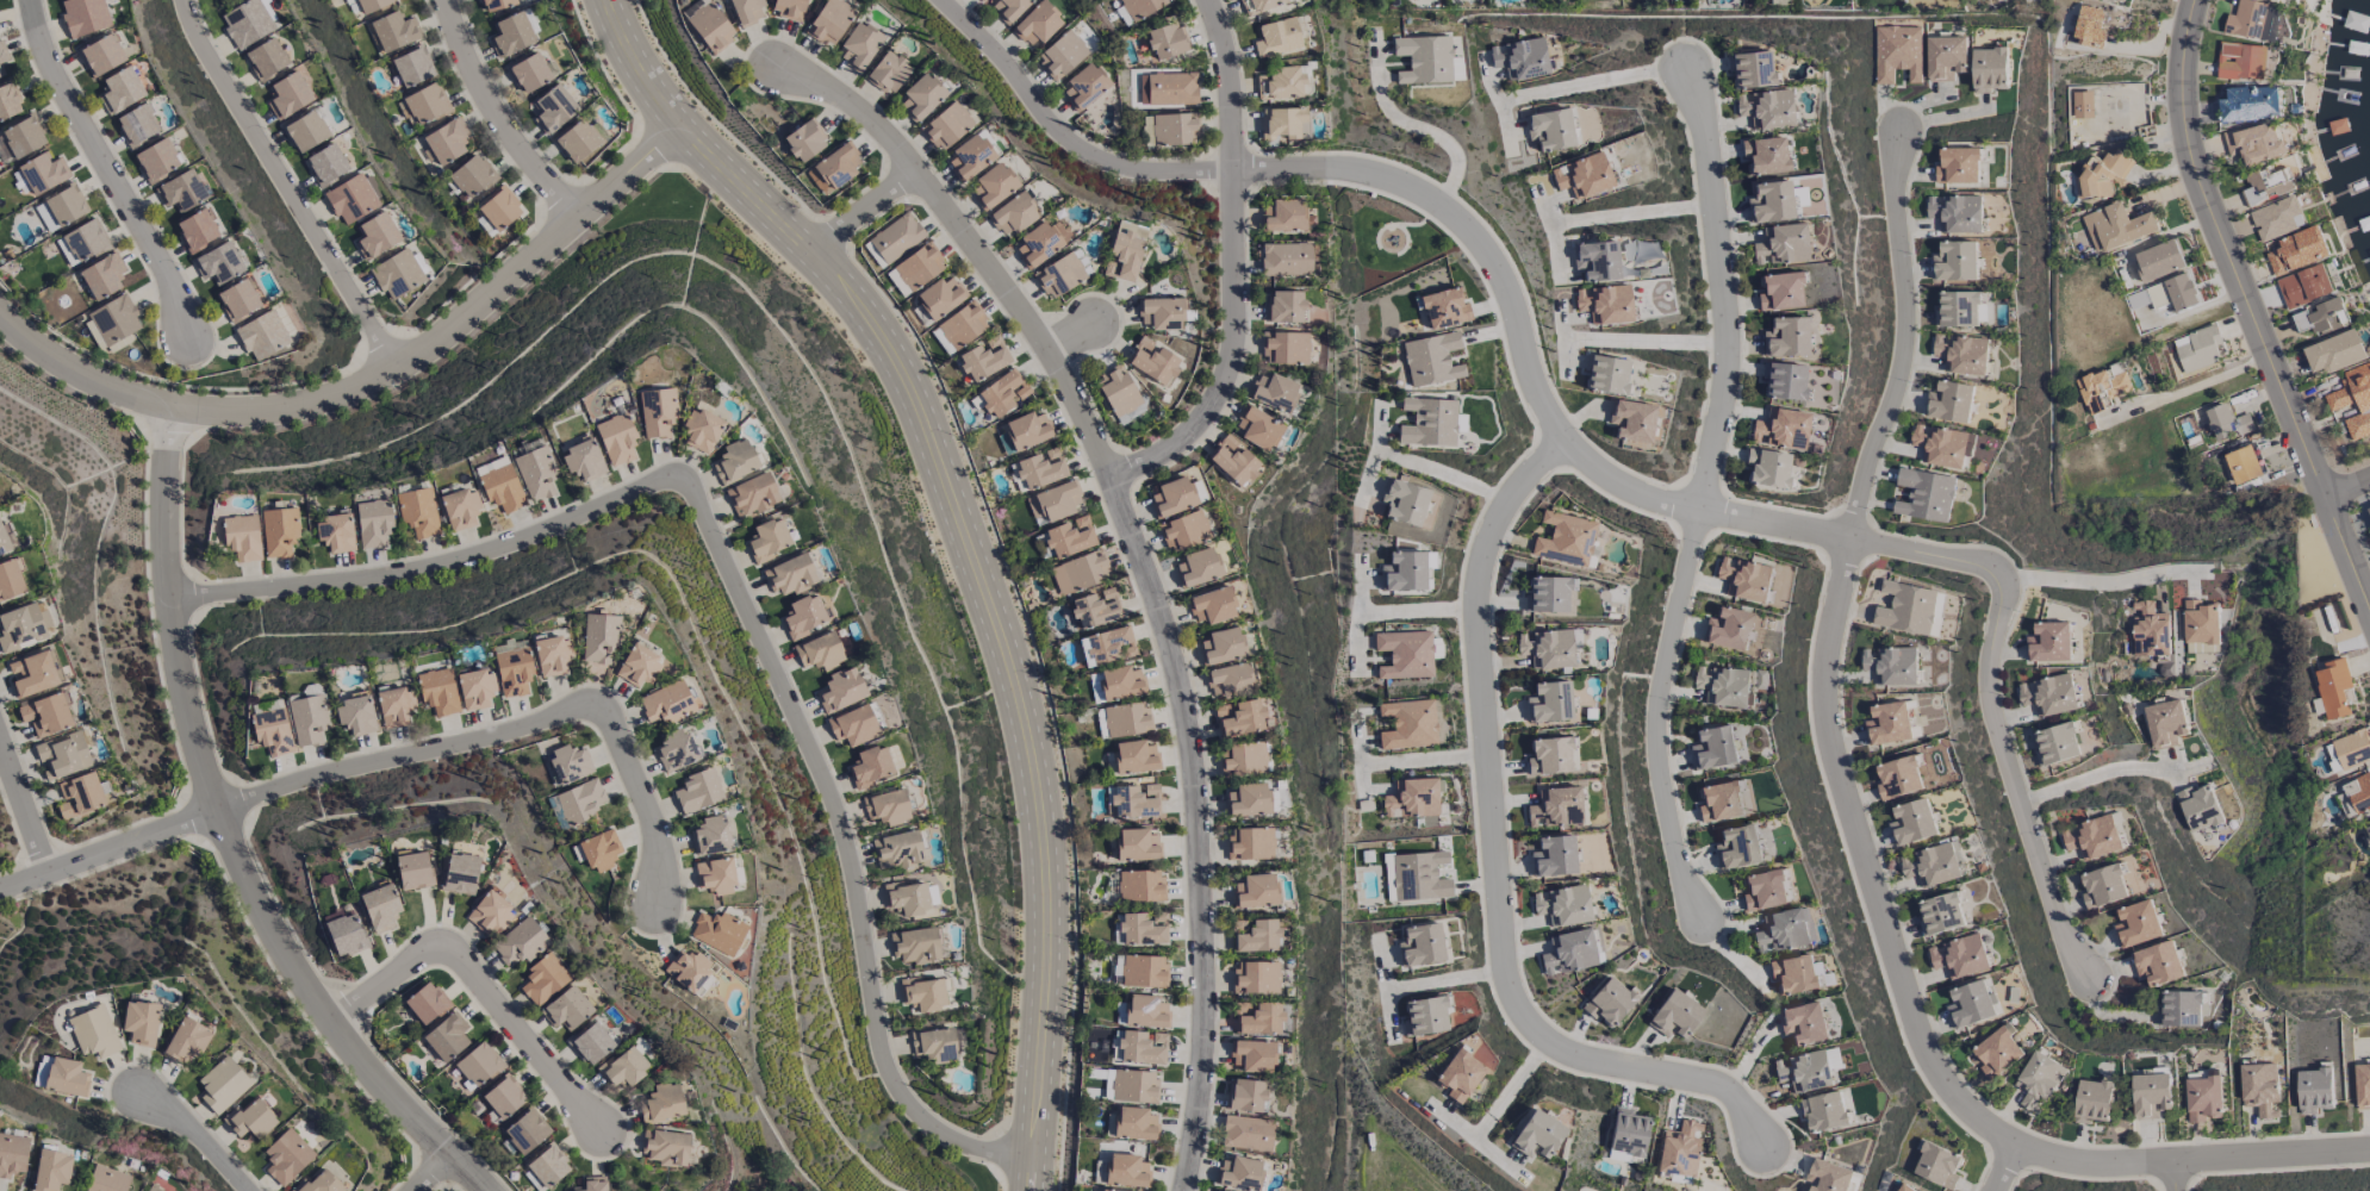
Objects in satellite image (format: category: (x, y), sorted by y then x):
building: (981, 0)
building: (2114, 0)
building: (2271, 0)
building: (810, 4)
building: (1275, 4)
building: (372, 5)
building: (496, 5)
building: (1157, 5)
building: (1026, 6)
building: (769, 7)
building: (790, 8)
building: (1008, 8)
building: (746, 11)
building: (85, 15)
building: (850, 18)
building: (729, 19)
building: (1056, 19)
building: (2252, 20)
building: (831, 21)
building: (247, 23)
building: (1037, 24)
building: (2090, 26)
building: (710, 27)
building: (393, 31)
building: (1298, 31)
building: (511, 33)
building: (1187, 33)
building: (879, 39)
building: (1167, 40)
building: (859, 46)
building: (1081, 49)
building: (1444, 52)
building: (1897, 52)
building: (101, 55)
building: (1062, 55)
building: (1946, 57)
building: (1520, 58)
building: (266, 60)
building: (2240, 61)
building: (2, 66)
building: (412, 67)
building: (909, 67)
building: (1749, 69)
building: (1990, 69)
building: (888, 71)
building: (529, 73)
building: (1300, 77)
building: (1106, 80)
road: (1603, 80)
building: (1190, 82)
building: (1281, 83)
building: (1084, 87)
building: (122, 88)
building: (940, 91)
building: (287, 95)
building: (921, 98)
building: (8, 101)
building: (423, 104)
building: (2250, 104)
building: (2080, 105)
building: (553, 108)
building: (1766, 108)
building: (1304, 118)
road: (496, 119)
building: (965, 120)
road: (1439, 123)
building: (1195, 124)
building: (137, 125)
building: (946, 126)
building: (1174, 129)
road: (1083, 130)
building: (1550, 130)
building: (306, 131)
building: (826, 133)
building: (23, 137)
building: (446, 141)
building: (577, 141)
building: (804, 141)
building: (2254, 143)
building: (989, 150)
building: (1765, 155)
building: (970, 157)
building: (156, 160)
building: (857, 160)
building: (325, 164)
building: (1958, 166)
building: (835, 168)
road: (108, 172)
building: (43, 173)
building: (471, 176)
building: (1582, 176)
building: (2100, 176)
building: (1014, 177)
road: (286, 182)
building: (993, 186)
building: (2265, 186)
building: (181, 191)
building: (353, 198)
building: (1771, 202)
road: (872, 207)
building: (61, 208)
building: (499, 208)
building: (1035, 208)
road: (1632, 213)
building: (1957, 213)
building: (1013, 214)
building: (1284, 216)
building: (2276, 219)
building: (2116, 226)
building: (197, 230)
building: (377, 235)
building: (896, 237)
building: (1057, 238)
building: (85, 241)
building: (1781, 244)
building: (2296, 250)
building: (1126, 251)
building: (1286, 260)
building: (2160, 260)
building: (1597, 261)
building: (1955, 261)
road: (1252, 262)
building: (219, 263)
building: (919, 267)
building: (1078, 269)
building: (398, 274)
building: (101, 276)
building: (2303, 286)
road: (1721, 289)
building: (1780, 292)
building: (2166, 294)
building: (940, 297)
building: (240, 299)
building: (1605, 304)
road: (2247, 305)
building: (1286, 306)
building: (1444, 308)
building: (1960, 310)
road: (2189, 310)
building: (1161, 313)
building: (2321, 318)
building: (114, 322)
building: (959, 328)
road: (1088, 330)
building: (262, 335)
building: (1786, 337)
road: (1643, 341)
building: (1286, 348)
building: (2198, 348)
building: (2334, 351)
building: (1961, 354)
building: (984, 358)
building: (1431, 358)
building: (1153, 361)
road: (371, 373)
building: (1606, 374)
building: (1784, 380)
road: (2194, 385)
building: (2102, 389)
building: (1118, 391)
building: (1274, 392)
building: (1003, 393)
building: (2353, 399)
building: (1949, 401)
building: (658, 413)
building: (1632, 420)
building: (1429, 422)
building: (2227, 423)
building: (1258, 428)
building: (1781, 429)
building: (702, 430)
building: (1027, 430)
road: (1562, 437)
building: (617, 439)
building: (1939, 445)
building: (584, 460)
building: (735, 461)
building: (1233, 461)
building: (2243, 463)
building: (1041, 468)
building: (1767, 468)
building: (537, 474)
road: (1445, 474)
road: (2349, 481)
building: (502, 488)
building: (1924, 494)
building: (752, 495)
building: (1177, 497)
building: (1053, 501)
building: (1405, 503)
building: (460, 509)
building: (2369, 510)
building: (418, 512)
building: (374, 523)
building: (279, 531)
building: (1184, 531)
building: (336, 532)
building: (242, 537)
building: (1070, 537)
building: (770, 540)
building: (1566, 540)
building: (4, 541)
road: (966, 544)
road: (1150, 561)
building: (1198, 568)
building: (1078, 572)
building: (1405, 572)
building: (790, 575)
building: (1744, 579)
building: (10, 580)
road: (2092, 580)
road: (740, 593)
building: (1550, 595)
building: (1212, 606)
building: (1909, 607)
building: (1096, 609)
road: (1418, 610)
building: (804, 616)
building: (2200, 626)
building: (20, 628)
building: (1729, 629)
building: (2150, 630)
building: (599, 638)
building: (2049, 642)
building: (1107, 647)
building: (1221, 647)
building: (1436, 648)
building: (1547, 648)
building: (820, 651)
building: (1405, 654)
building: (553, 655)
building: (1891, 665)
building: (639, 666)
building: (514, 672)
building: (33, 674)
building: (1230, 680)
building: (1120, 684)
building: (1727, 685)
building: (2334, 688)
building: (475, 690)
building: (840, 690)
building: (438, 692)
building: (2048, 694)
building: (1550, 701)
building: (667, 703)
building: (396, 707)
building: (46, 715)
building: (356, 715)
road: (1660, 715)
building: (309, 719)
building: (1127, 719)
building: (1101, 723)
building: (1889, 723)
building: (2165, 723)
building: (1407, 724)
building: (853, 725)
building: (272, 727)
road: (487, 741)
building: (2057, 744)
building: (1713, 747)
building: (2352, 748)
building: (676, 750)
building: (63, 755)
building: (1134, 756)
building: (1549, 756)
building: (1244, 757)
building: (2332, 759)
road: (1424, 760)
building: (570, 763)
building: (871, 766)
road: (2096, 773)
building: (1899, 778)
road: (2014, 784)
building: (698, 791)
building: (80, 796)
building: (2356, 796)
building: (1412, 798)
building: (1249, 799)
building: (583, 800)
building: (1134, 802)
building: (1719, 802)
road: (25, 806)
building: (888, 806)
building: (1555, 807)
building: (2198, 807)
building: (1912, 822)
building: (2368, 833)
building: (711, 836)
road: (1856, 836)
building: (2092, 837)
road: (226, 840)
building: (1251, 843)
road: (105, 844)
building: (1137, 844)
building: (1737, 847)
building: (897, 849)
building: (601, 850)
building: (1554, 856)
road: (1495, 861)
building: (1933, 865)
building: (413, 871)
building: (460, 873)
building: (716, 877)
building: (1419, 877)
building: (1388, 878)
building: (2369, 883)
building: (1140, 886)
building: (2103, 886)
building: (1765, 890)
building: (1257, 891)
building: (908, 900)
building: (380, 905)
building: (1562, 905)
building: (491, 912)
building: (1940, 912)
building: (1159, 918)
building: (2138, 923)
building: (1140, 930)
building: (1785, 930)
building: (719, 933)
building: (344, 934)
building: (1258, 937)
building: (522, 941)
building: (1422, 944)
building: (1568, 953)
building: (1959, 956)
building: (2158, 964)
building: (1144, 971)
building: (697, 974)
building: (1793, 974)
building: (1256, 977)
road: (1444, 979)
building: (543, 980)
road: (483, 981)
road: (1385, 987)
building: (925, 994)
building: (1609, 1002)
building: (425, 1003)
building: (1971, 1004)
building: (567, 1009)
building: (2181, 1009)
building: (1145, 1011)
building: (1675, 1015)
building: (1425, 1016)
building: (1262, 1019)
building: (141, 1023)
building: (1804, 1023)
building: (94, 1033)
building: (446, 1037)
building: (187, 1041)
building: (591, 1043)
building: (937, 1045)
building: (1143, 1047)
building: (1997, 1050)
building: (1254, 1055)
building: (478, 1064)
building: (624, 1067)
building: (42, 1072)
building: (1804, 1072)
building: (1458, 1075)
building: (67, 1077)
building: (2038, 1080)
building: (223, 1085)
building: (2362, 1085)
building: (1134, 1086)
building: (2260, 1089)
building: (2314, 1090)
building: (1246, 1096)
building: (2151, 1096)
building: (503, 1098)
building: (2202, 1098)
building: (2092, 1100)
building: (661, 1103)
building: (1823, 1111)
building: (249, 1120)
building: (1134, 1123)
building: (525, 1131)
building: (1248, 1133)
road: (199, 1135)
building: (1537, 1135)
building: (1628, 1135)
building: (667, 1147)
building: (1680, 1149)
building: (12, 1155)
building: (287, 1156)
building: (1937, 1166)
building: (52, 1170)
building: (546, 1170)
building: (1126, 1170)
road: (2003, 1170)
road: (428, 1172)
building: (1240, 1173)
building: (1828, 1177)
road: (2172, 1177)
building: (107, 1179)
building: (318, 1184)
building: (592, 1184)
building: (1904, 1187)
building: (154, 1189)
building: (1106, 1190)
building: (1214, 1190)

